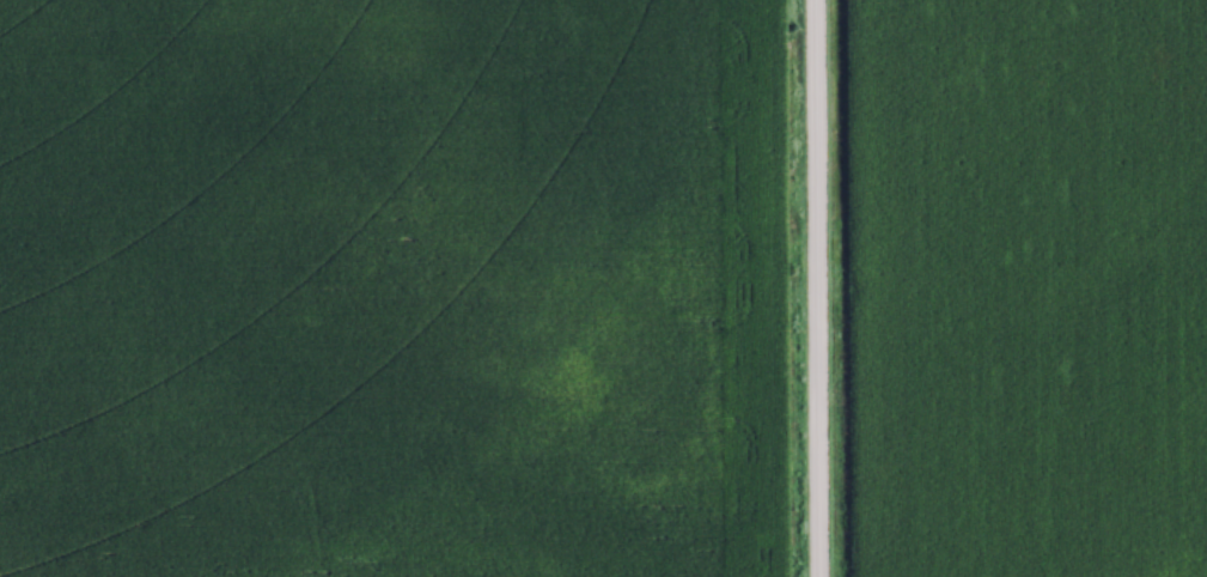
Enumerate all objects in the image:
road: (815, 288)

